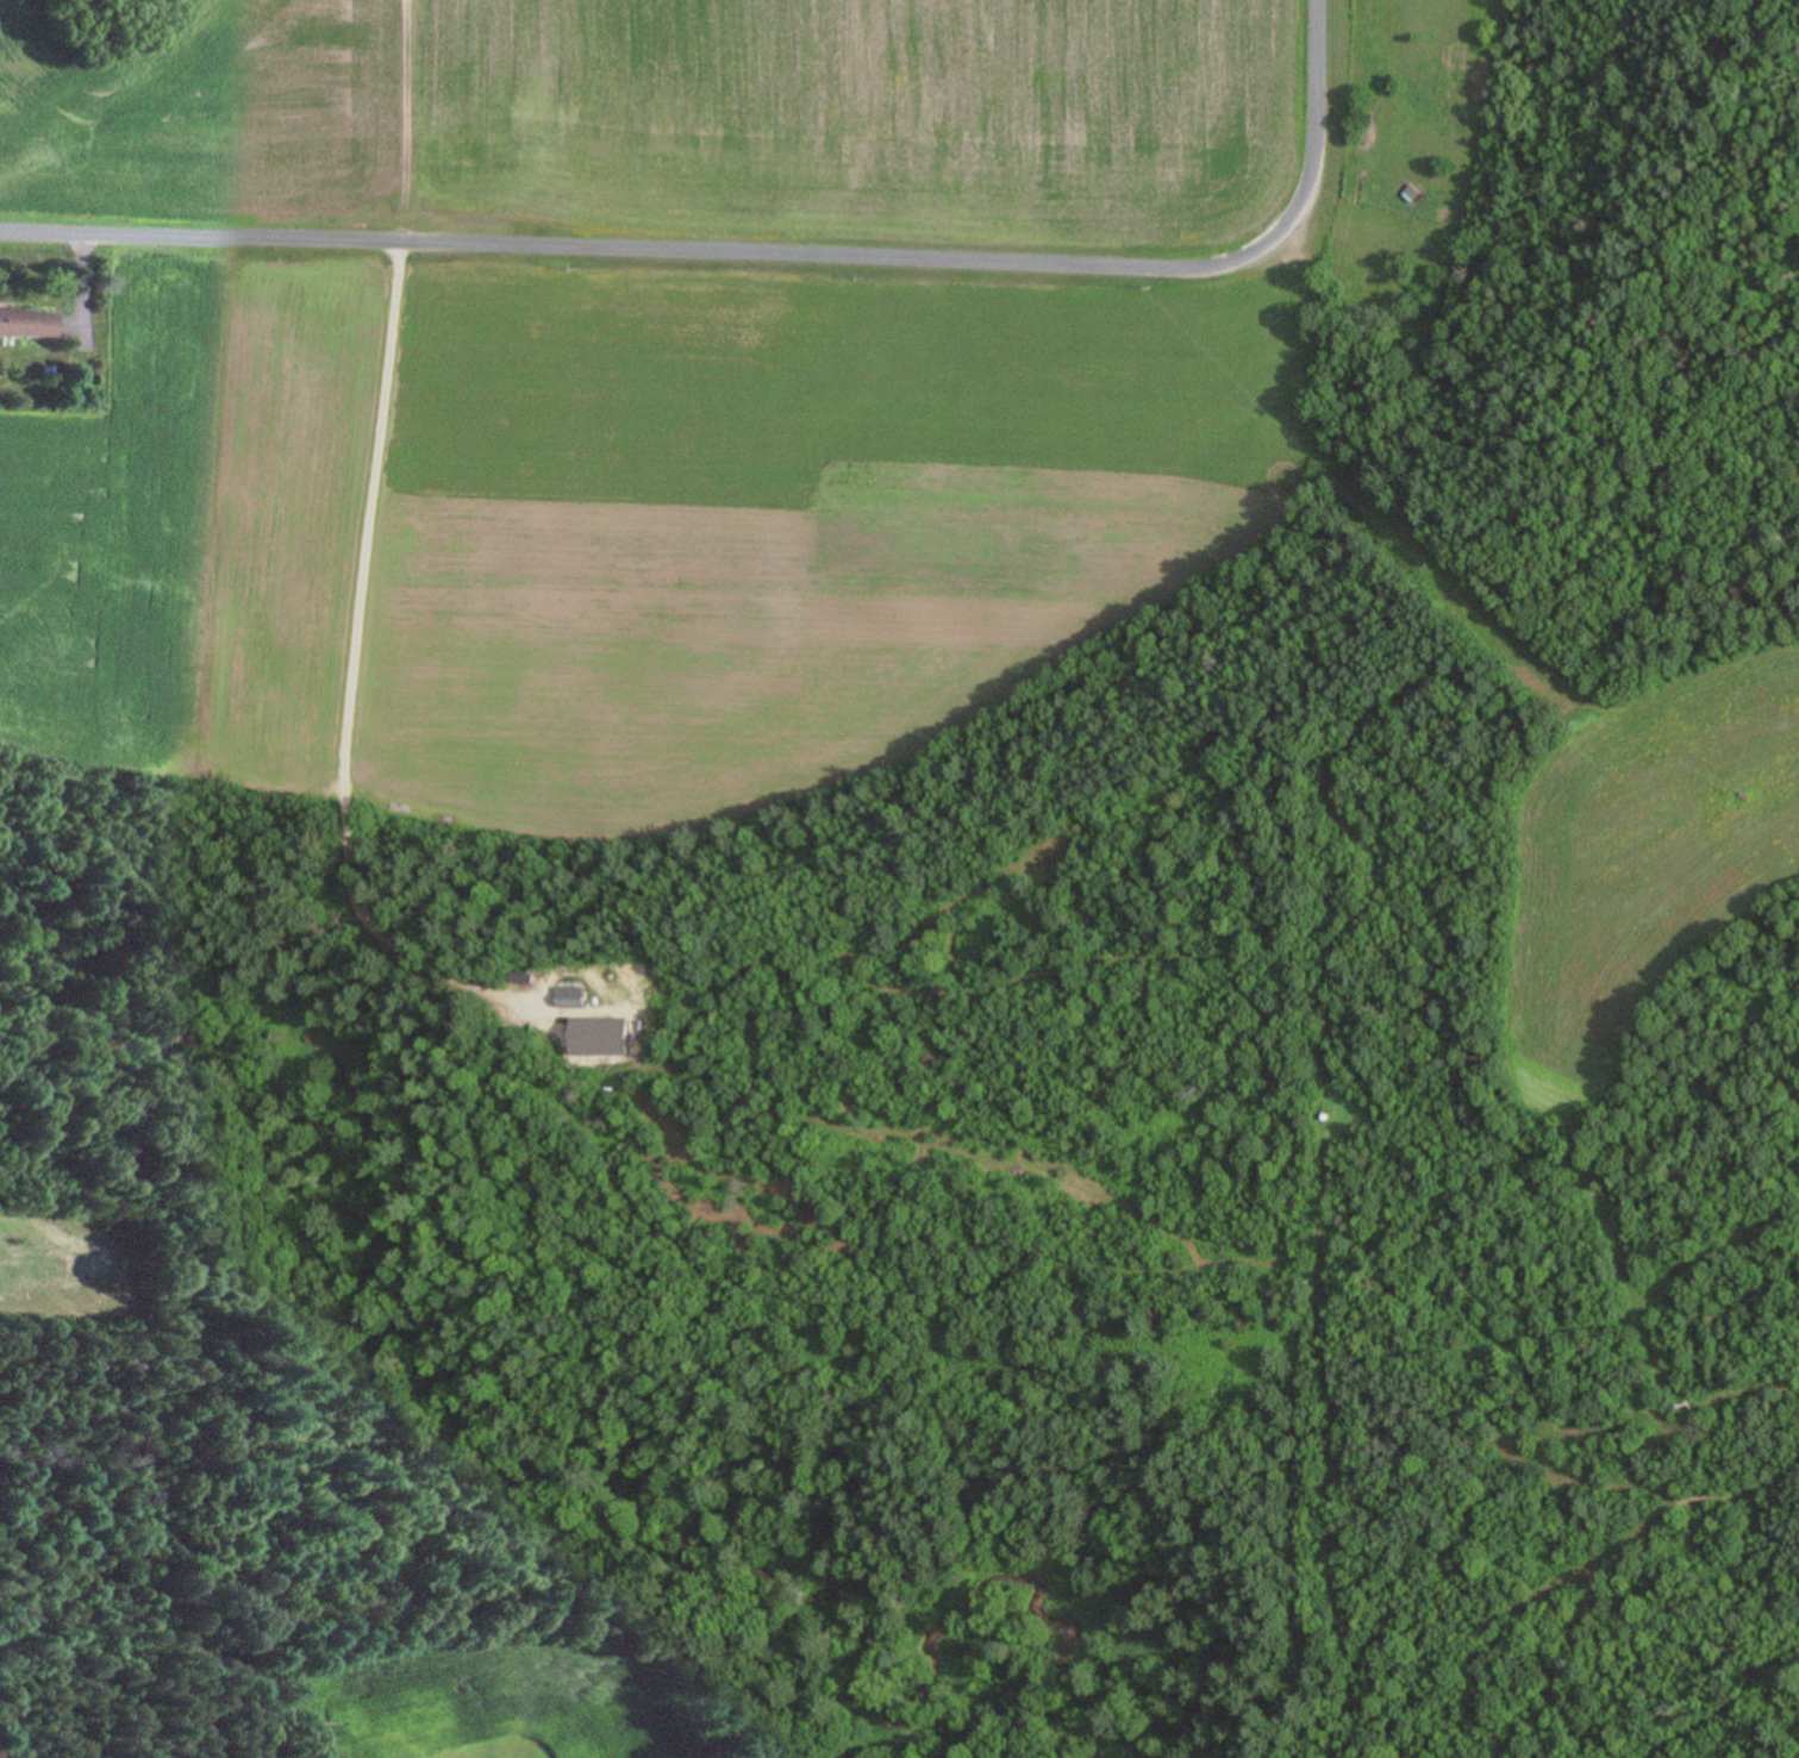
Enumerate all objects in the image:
road: (764, 254)
building: (27, 321)
road: (369, 525)
road: (383, 936)
building: (568, 996)

